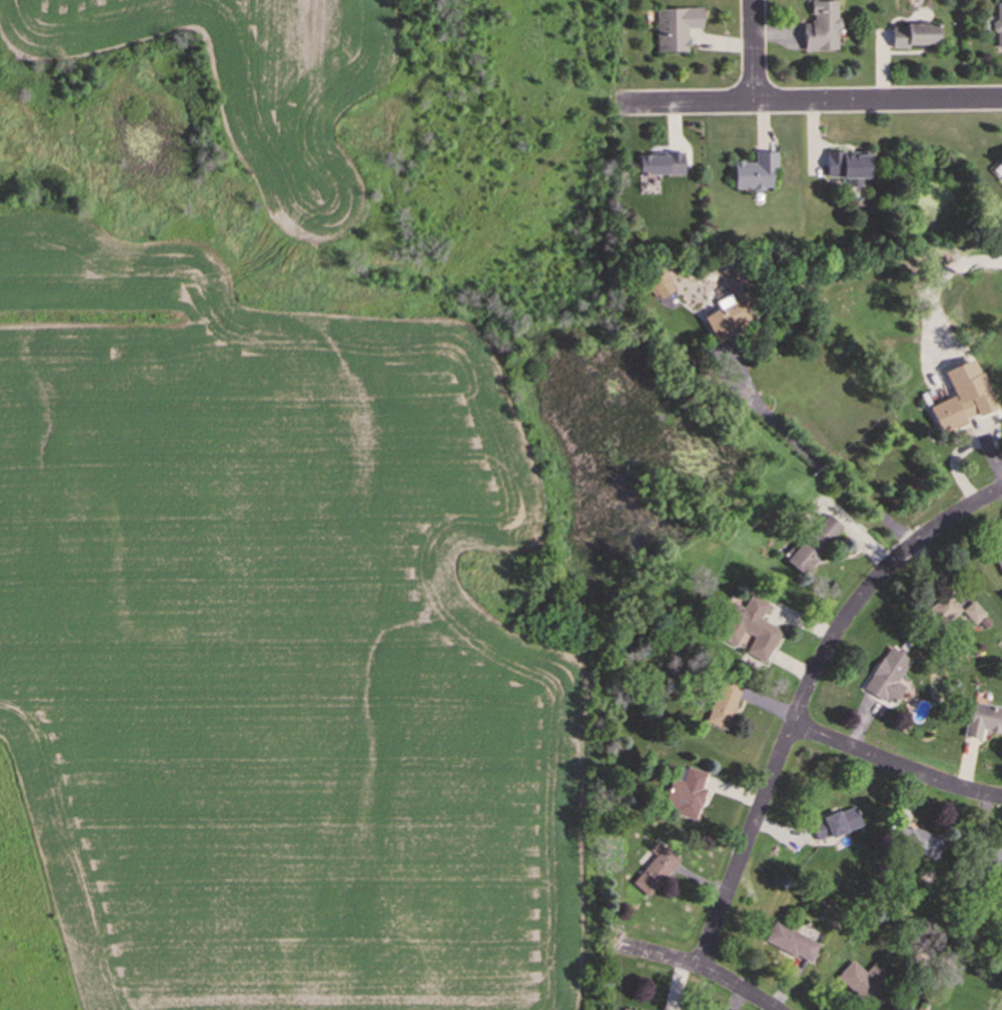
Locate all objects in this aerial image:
building: (998, 22)
building: (674, 26)
building: (820, 26)
building: (914, 34)
road: (754, 51)
crop: (252, 80)
road: (808, 102)
building: (1000, 160)
building: (659, 163)
building: (847, 165)
building: (753, 171)
road: (935, 283)
building: (659, 285)
building: (726, 316)
building: (962, 395)
road: (954, 458)
road: (992, 458)
road: (820, 462)
building: (813, 542)
building: (999, 560)
building: (951, 611)
building: (749, 626)
crop: (275, 644)
building: (886, 675)
road: (804, 692)
building: (723, 702)
building: (982, 718)
road: (895, 764)
building: (684, 792)
building: (834, 823)
building: (920, 841)
building: (993, 859)
building: (654, 869)
building: (791, 941)
road: (702, 966)
building: (864, 982)
building: (626, 1009)

